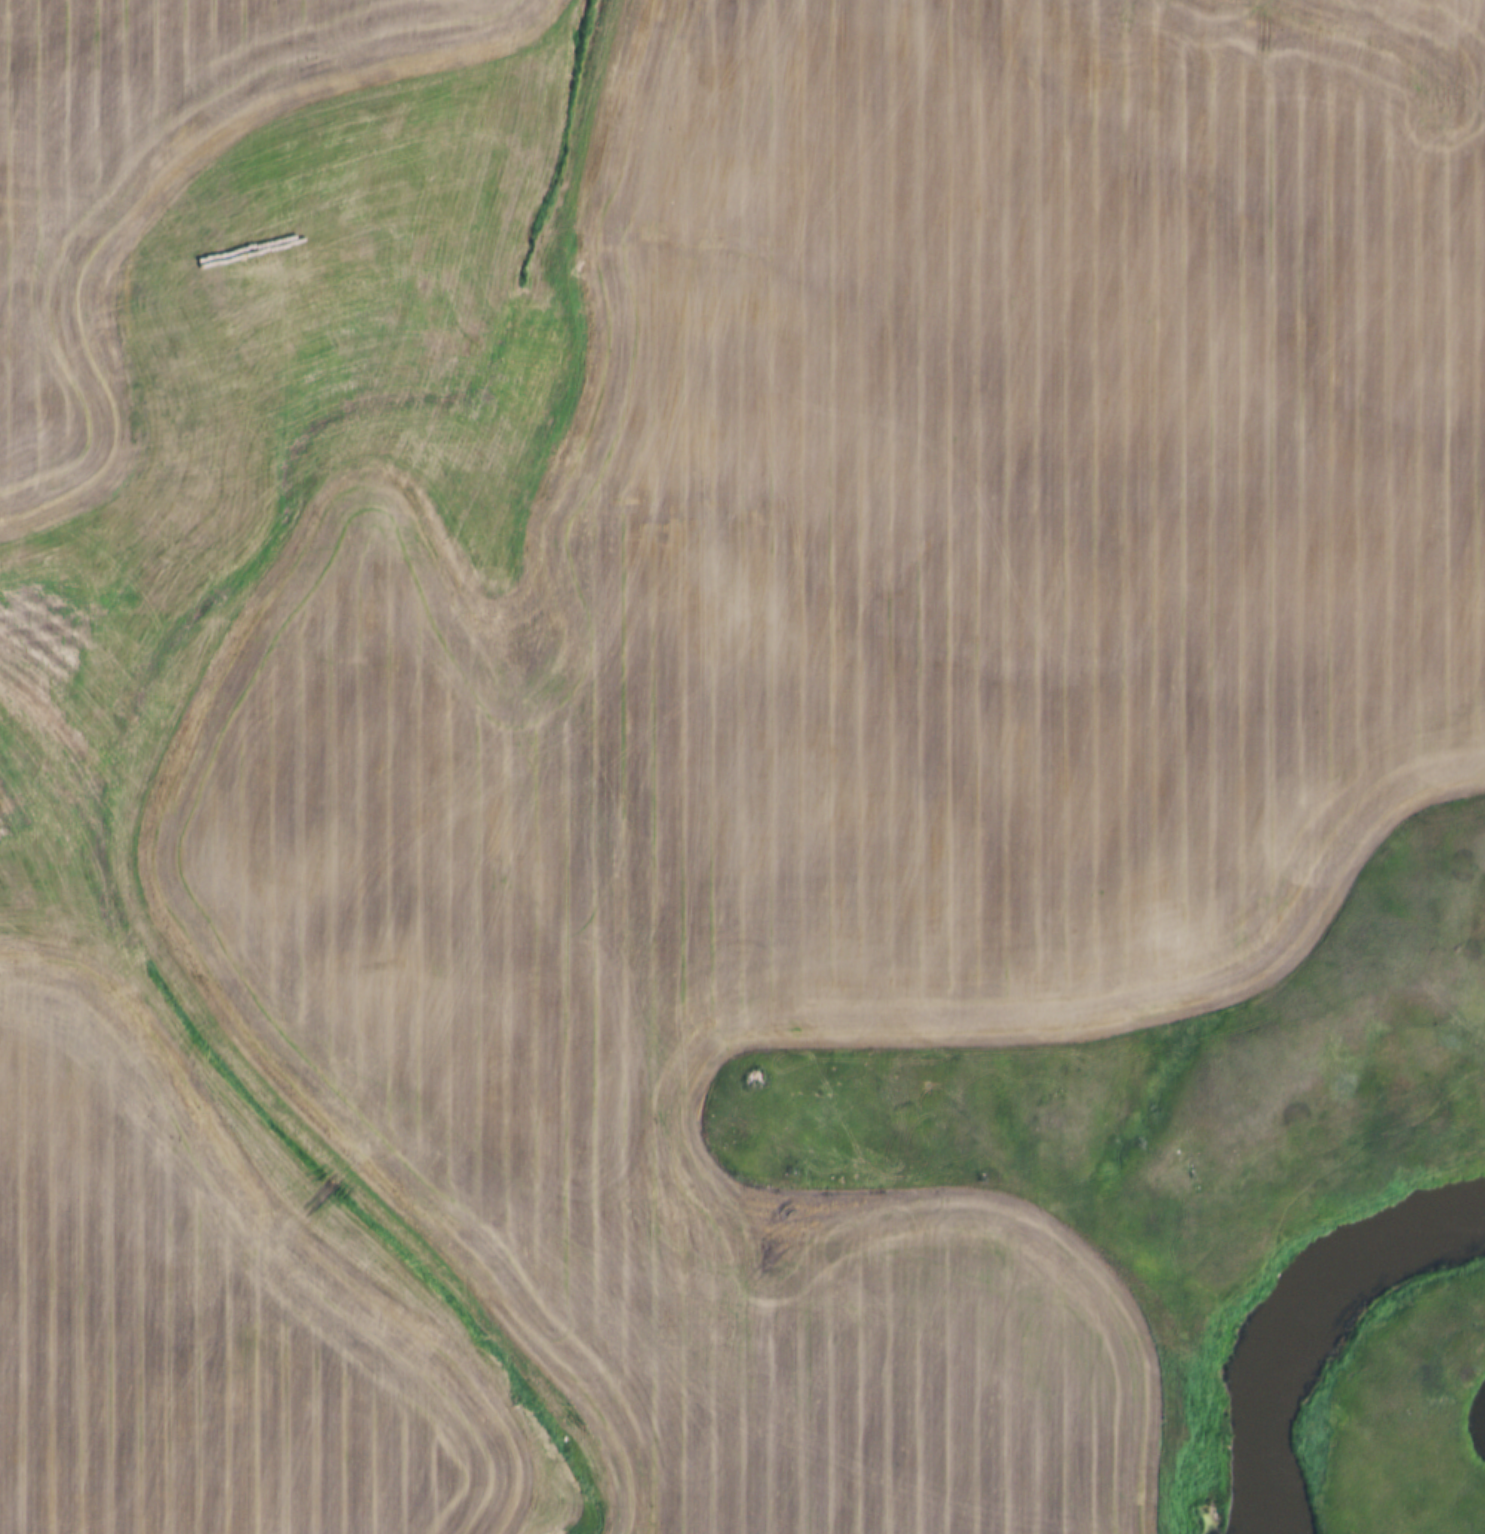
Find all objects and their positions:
river: (1296, 1317)

